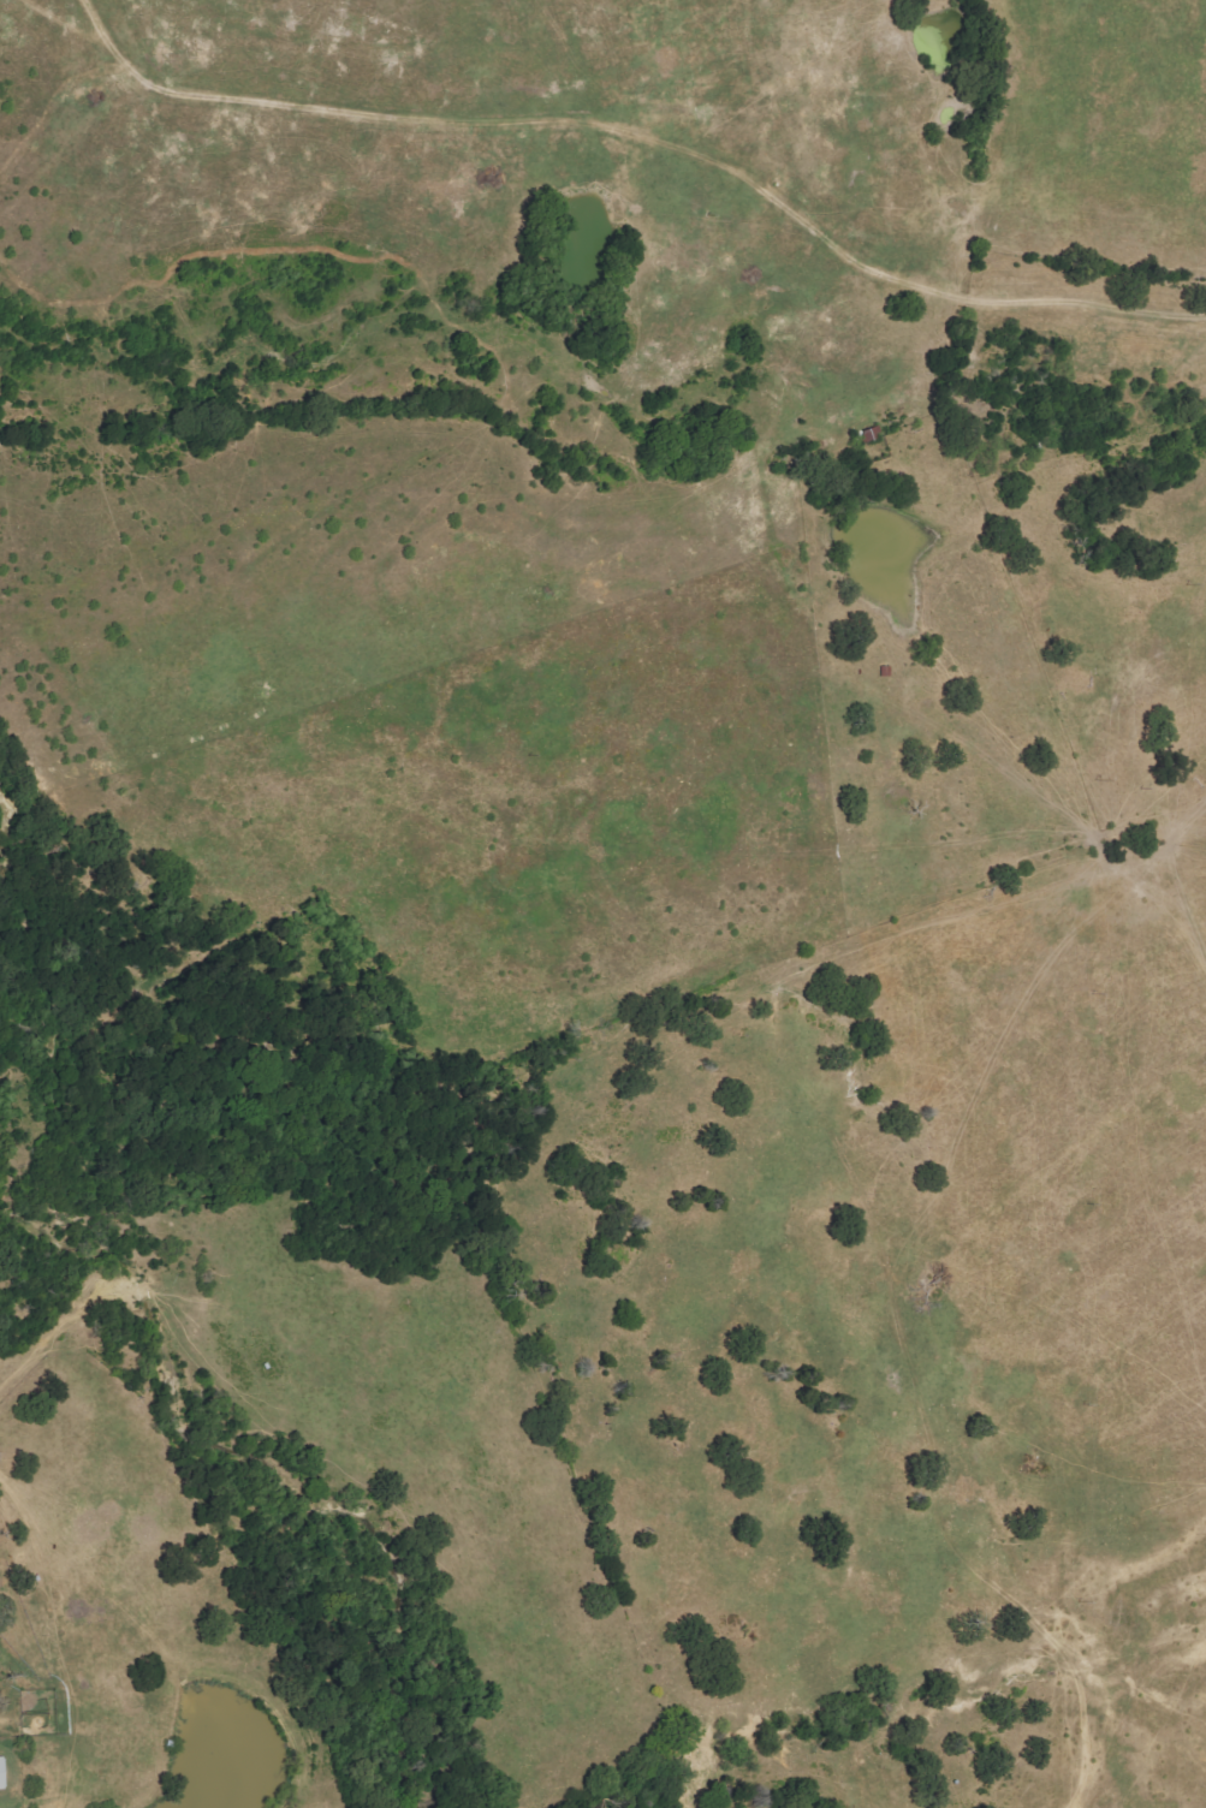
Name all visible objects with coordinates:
building: (1, 1774)

